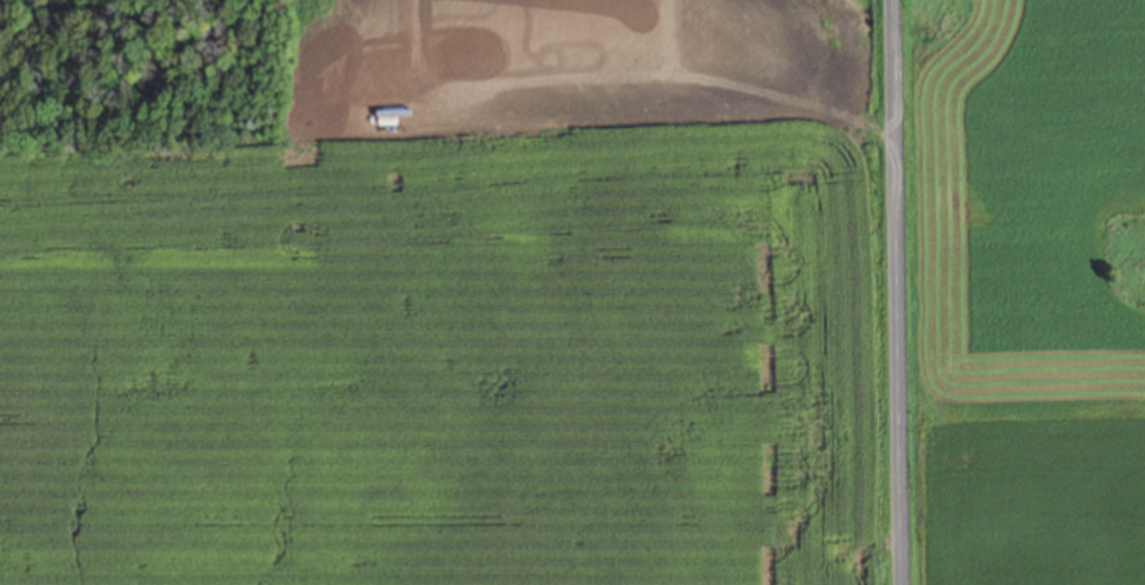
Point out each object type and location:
road: (896, 292)

